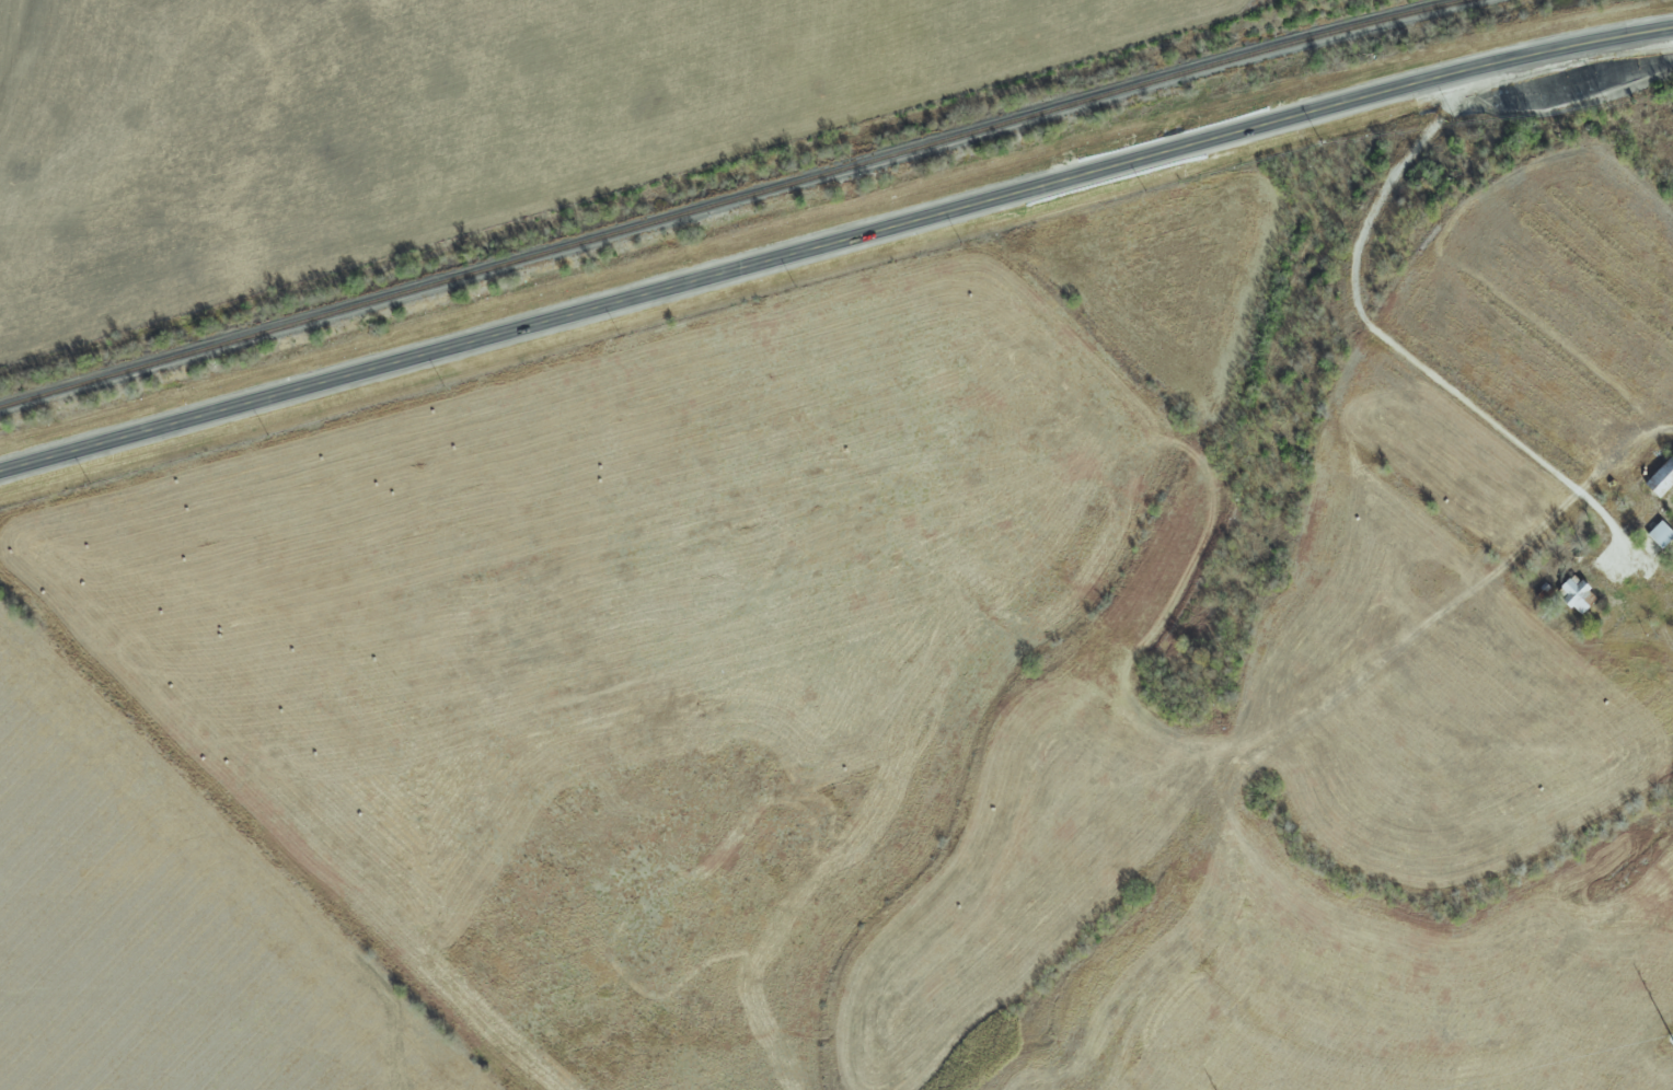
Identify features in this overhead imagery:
railway: (732, 200)
road: (834, 242)
road: (1396, 350)
building: (1660, 480)
building: (1659, 536)
building: (1539, 592)
building: (1573, 598)
power tower: (1672, 1037)

